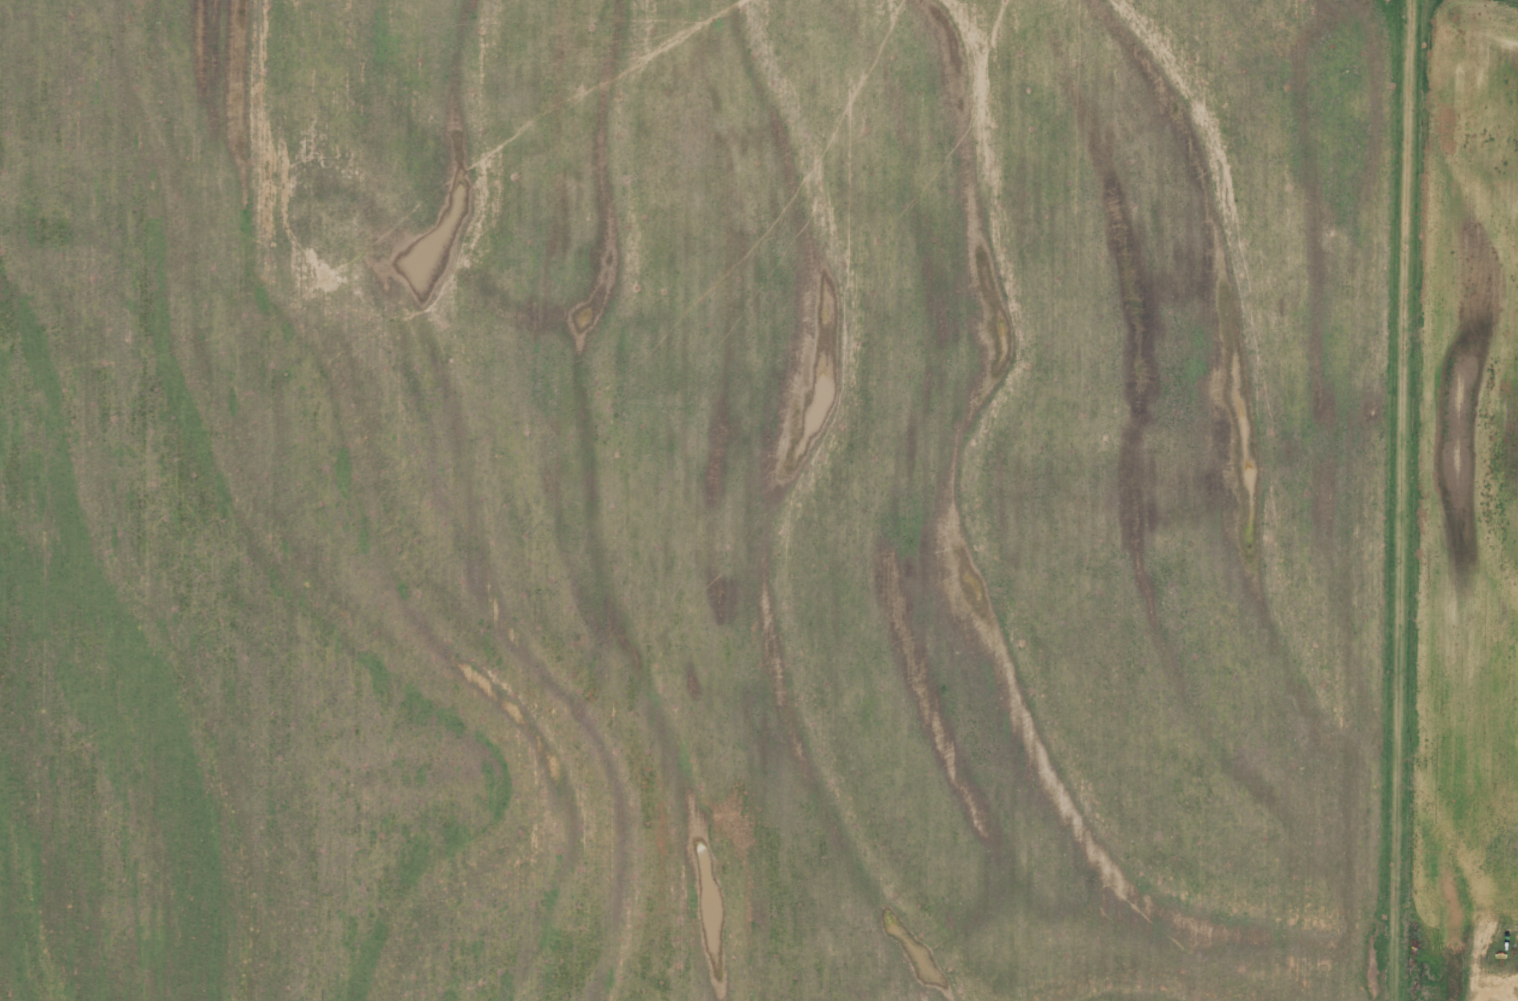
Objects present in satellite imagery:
road: (1409, 500)

